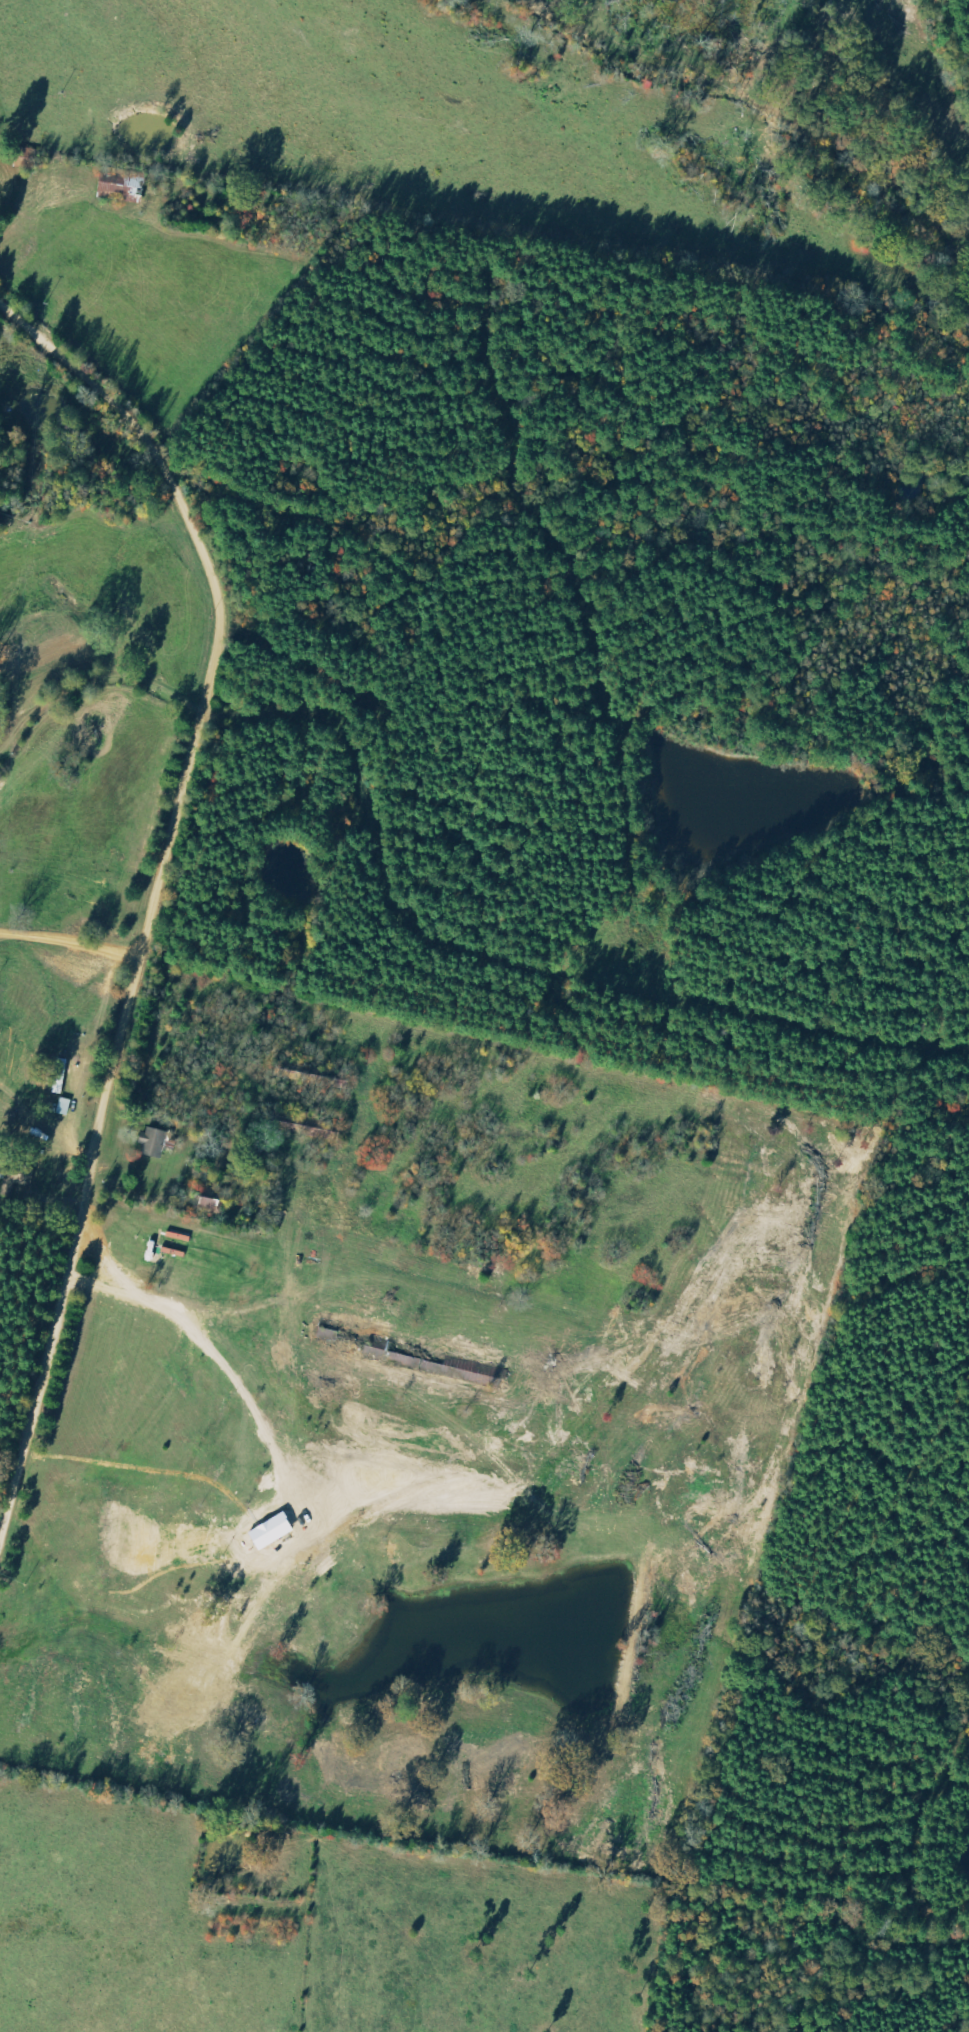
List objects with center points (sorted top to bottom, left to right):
road: (169, 922)
building: (157, 1143)
road: (13, 1507)

